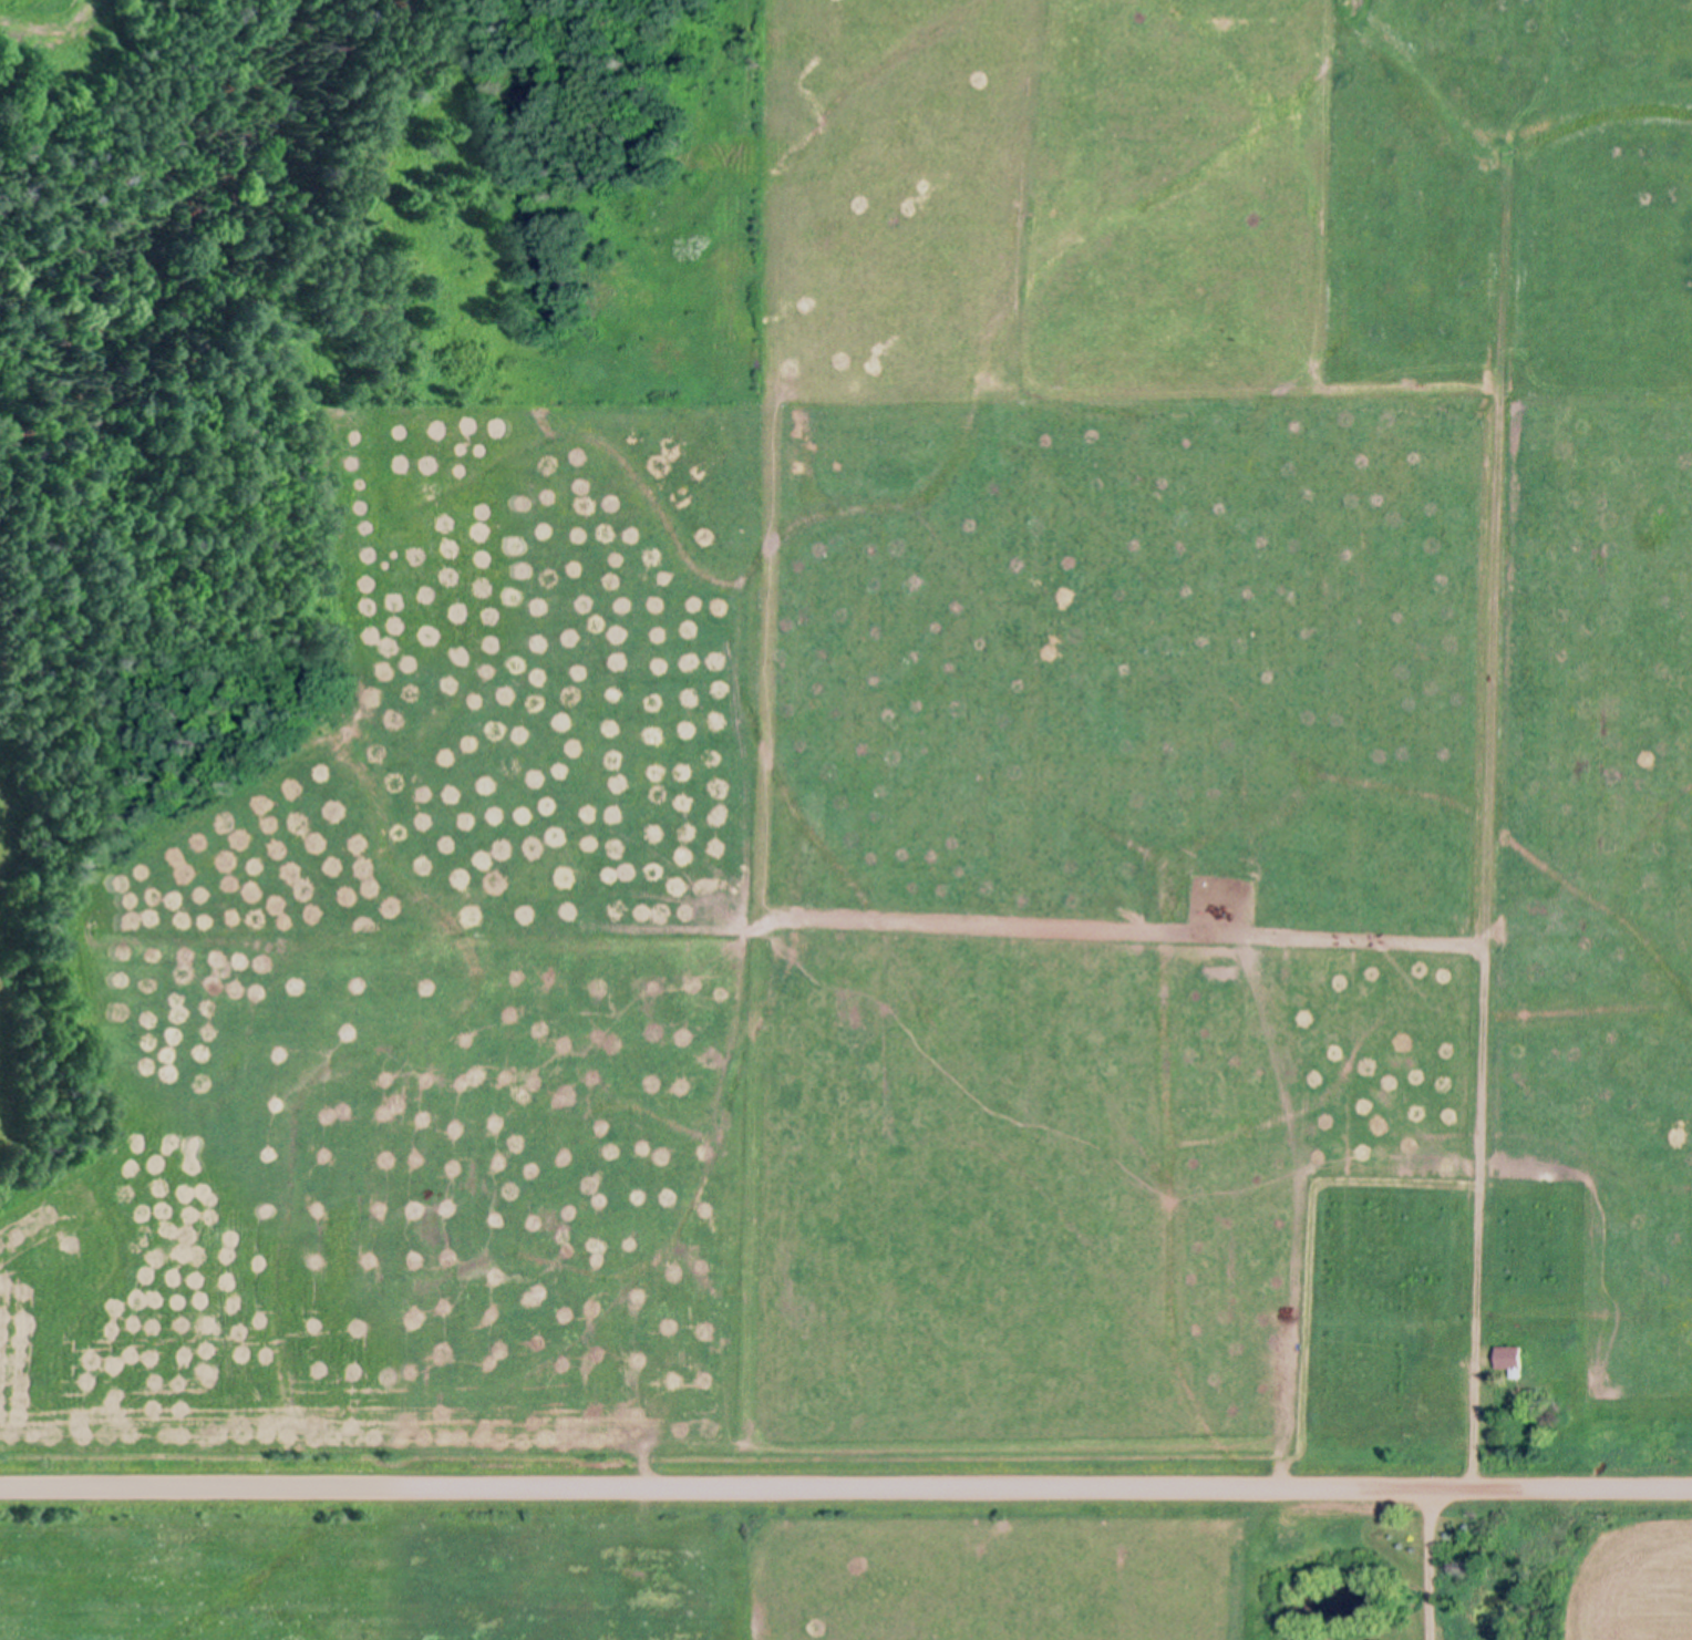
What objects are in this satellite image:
building: (1512, 1355)
building: (1525, 1385)
road: (846, 1493)

